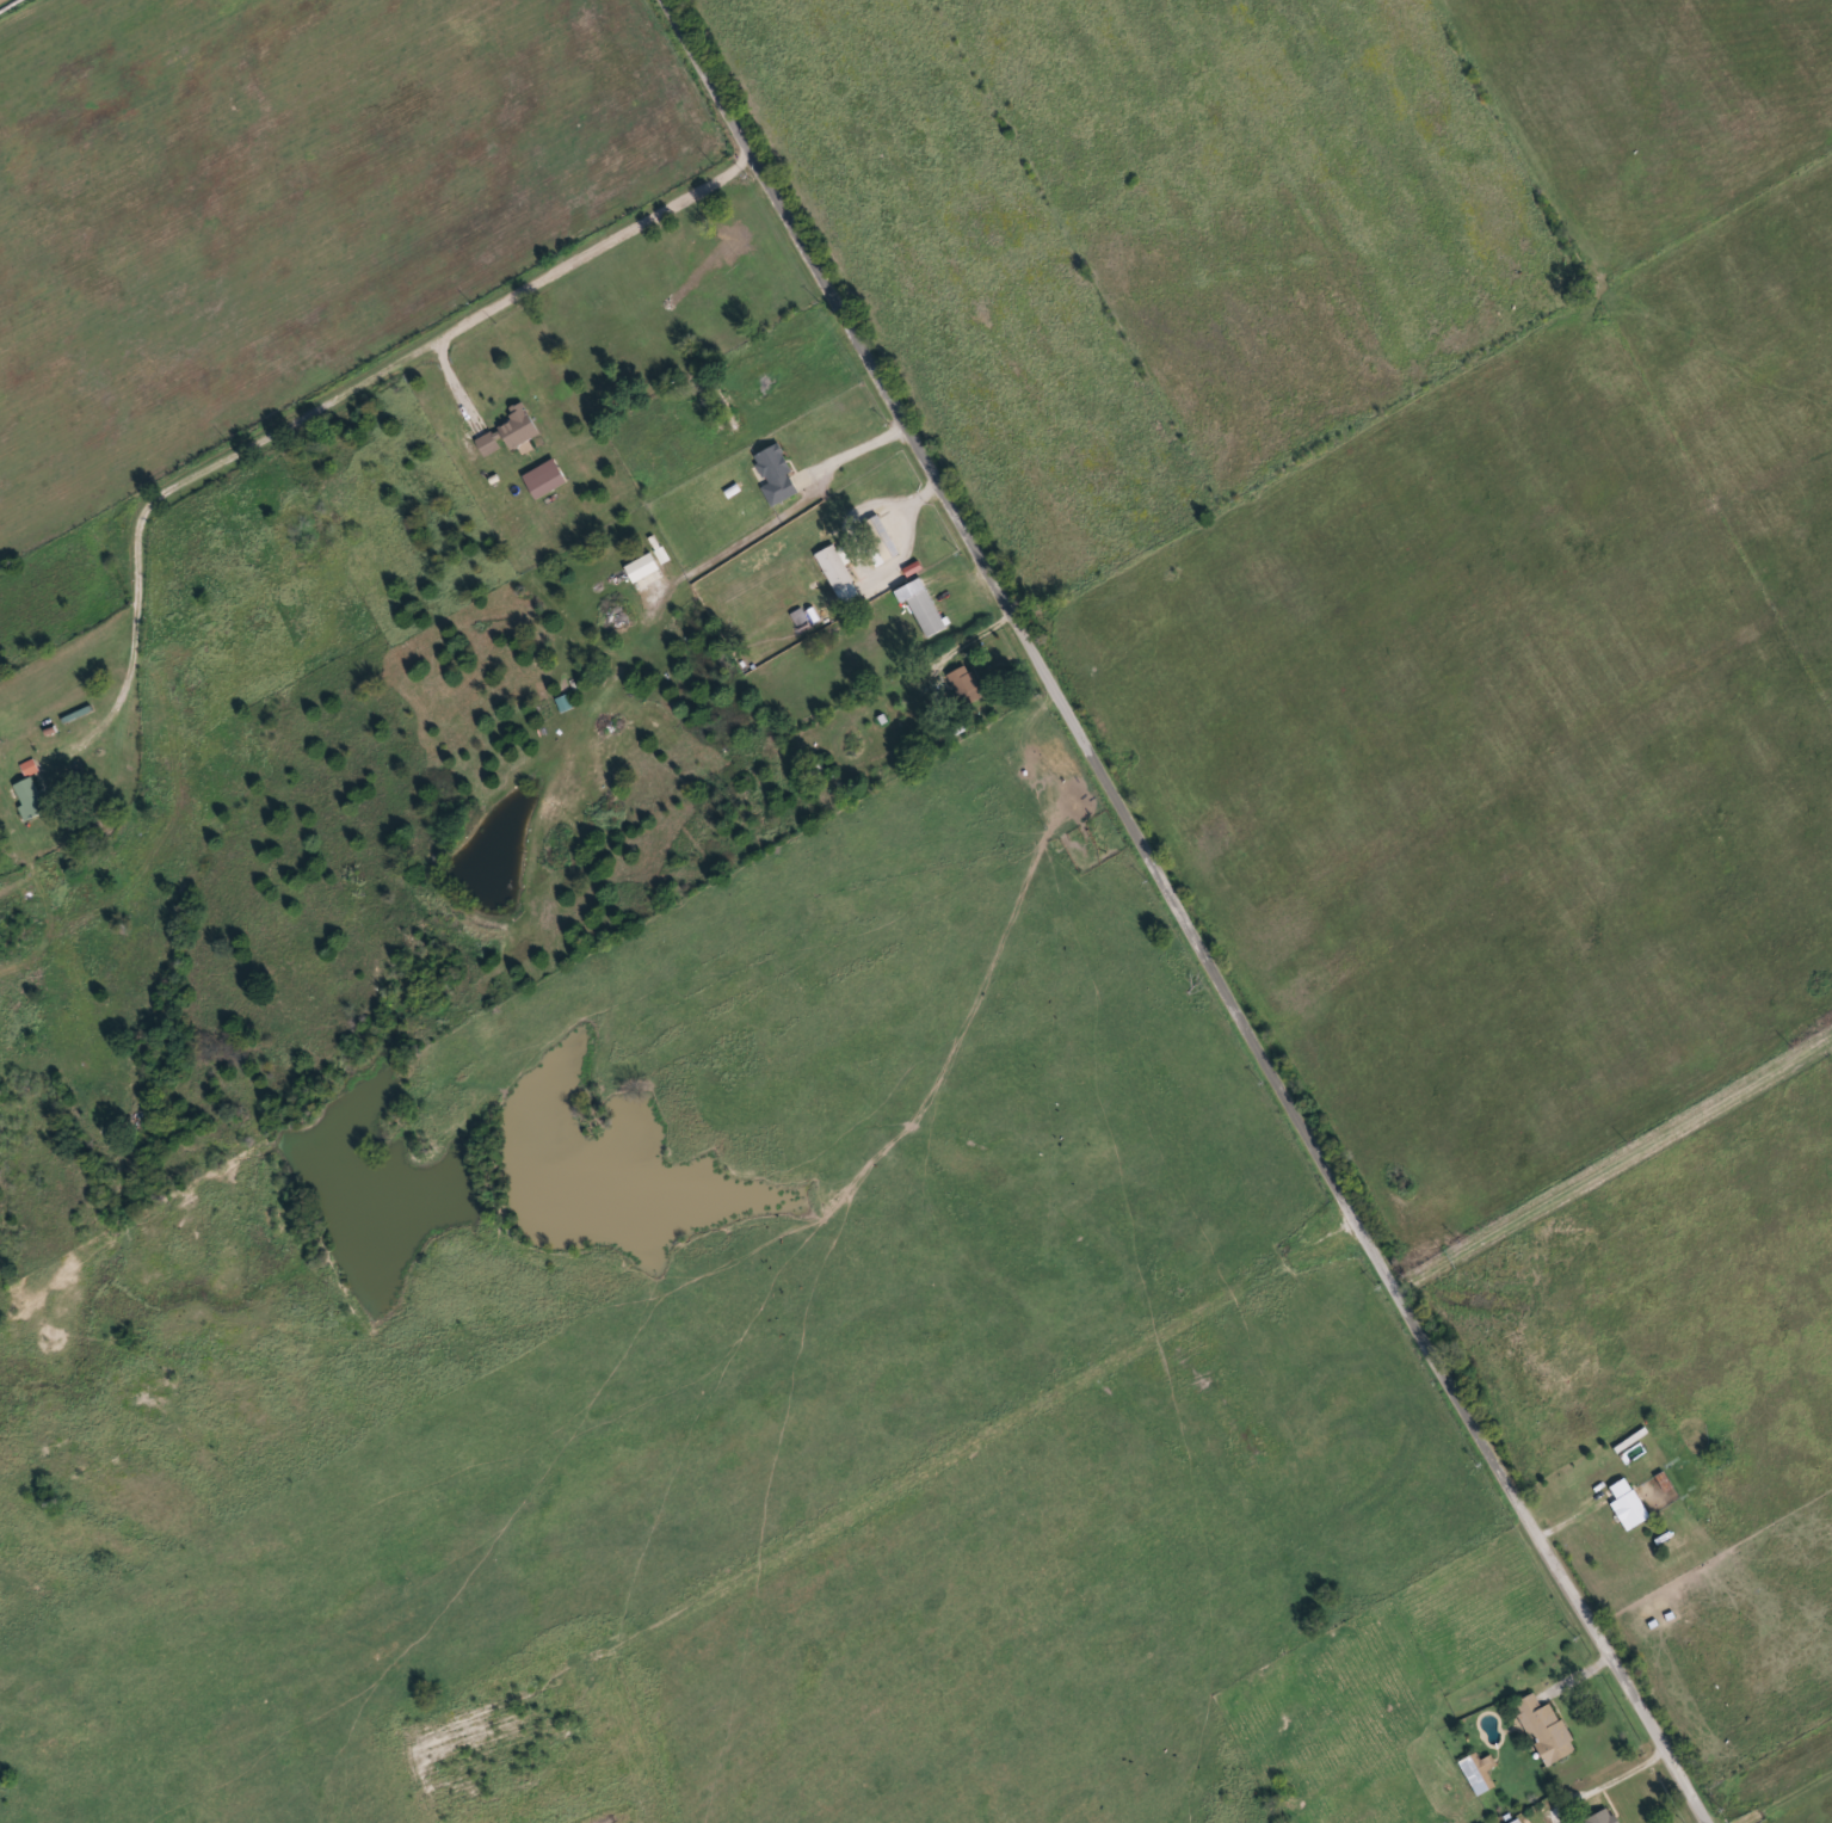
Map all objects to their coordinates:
building: (741, 241)
road: (328, 390)
building: (724, 407)
building: (512, 435)
building: (778, 476)
building: (547, 480)
building: (882, 537)
building: (835, 568)
building: (646, 572)
building: (925, 606)
building: (964, 683)
building: (31, 768)
building: (33, 797)
road: (1184, 913)
building: (1627, 1505)
building: (1544, 1729)
building: (1479, 1773)
road: (1778, 1794)
building: (1602, 1817)
building: (1516, 1821)

